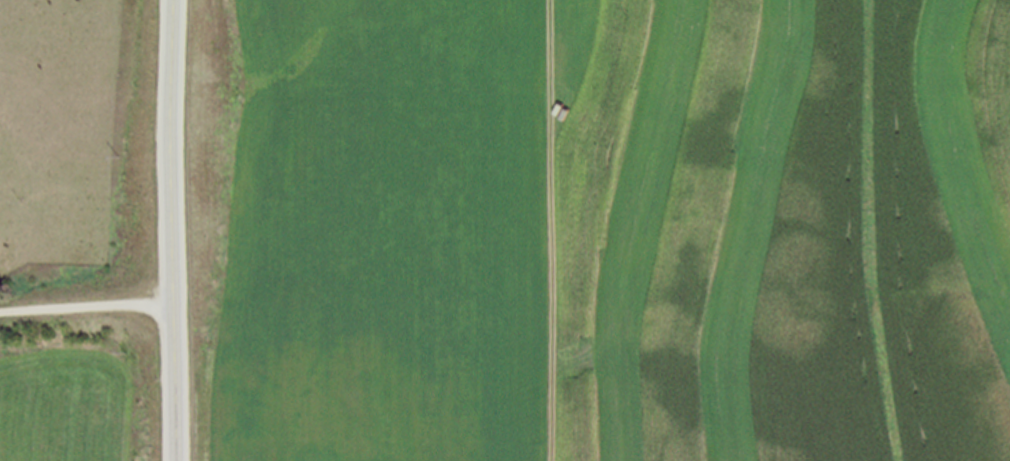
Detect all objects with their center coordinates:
road: (180, 230)
road: (549, 230)
road: (849, 299)
road: (91, 320)

